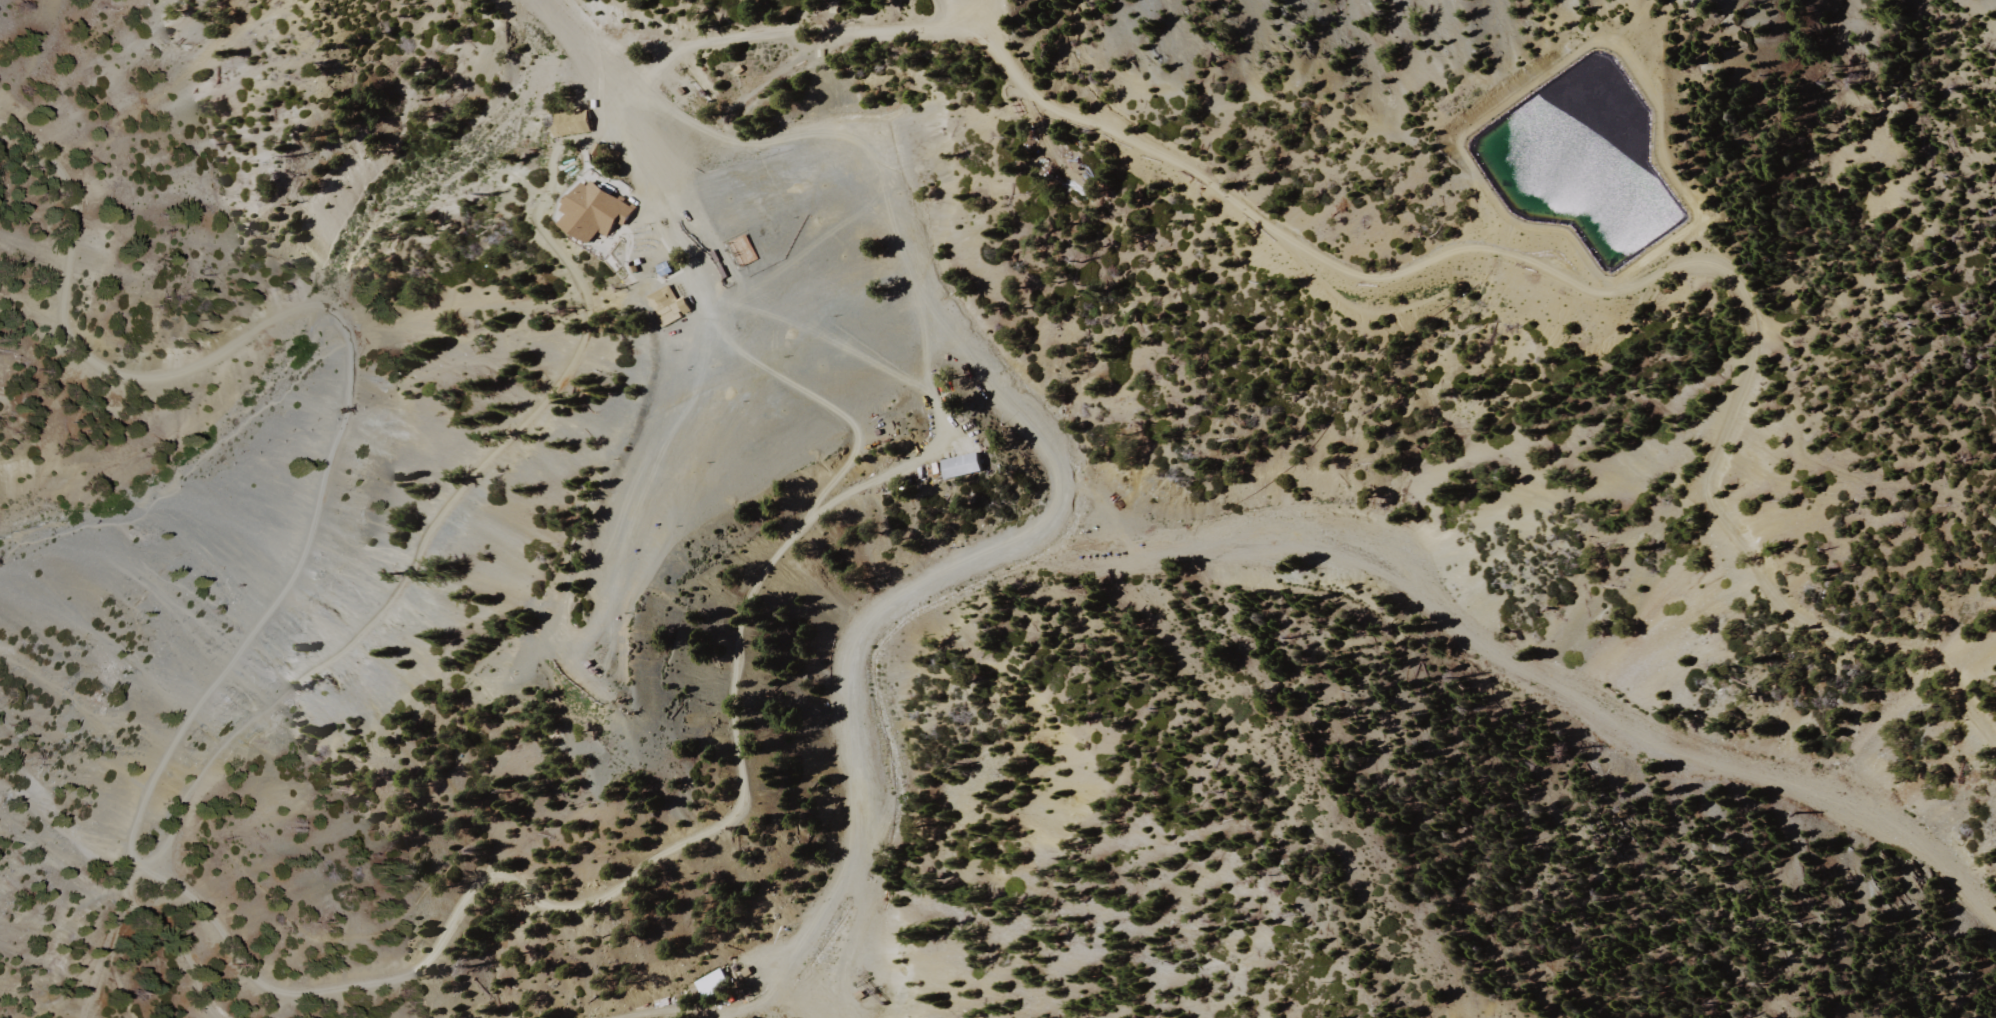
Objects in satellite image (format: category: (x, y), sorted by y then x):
road: (950, 12)
road: (973, 12)
road: (795, 37)
road: (601, 45)
aerialway pylon: (680, 66)
building: (573, 123)
road: (823, 129)
building: (594, 210)
road: (724, 261)
building: (661, 271)
aerialway pylon: (621, 289)
road: (1622, 293)
building: (660, 298)
building: (681, 306)
aerialway pylon: (570, 311)
road: (827, 338)
road: (924, 340)
road: (344, 350)
aerialway pylon: (337, 412)
road: (163, 439)
building: (957, 467)
road: (868, 484)
road: (458, 488)
ski resort: (927, 540)
aerialway pylon: (624, 697)
aerialway pylon: (634, 710)
road: (738, 761)
aerialway pylon: (727, 828)

